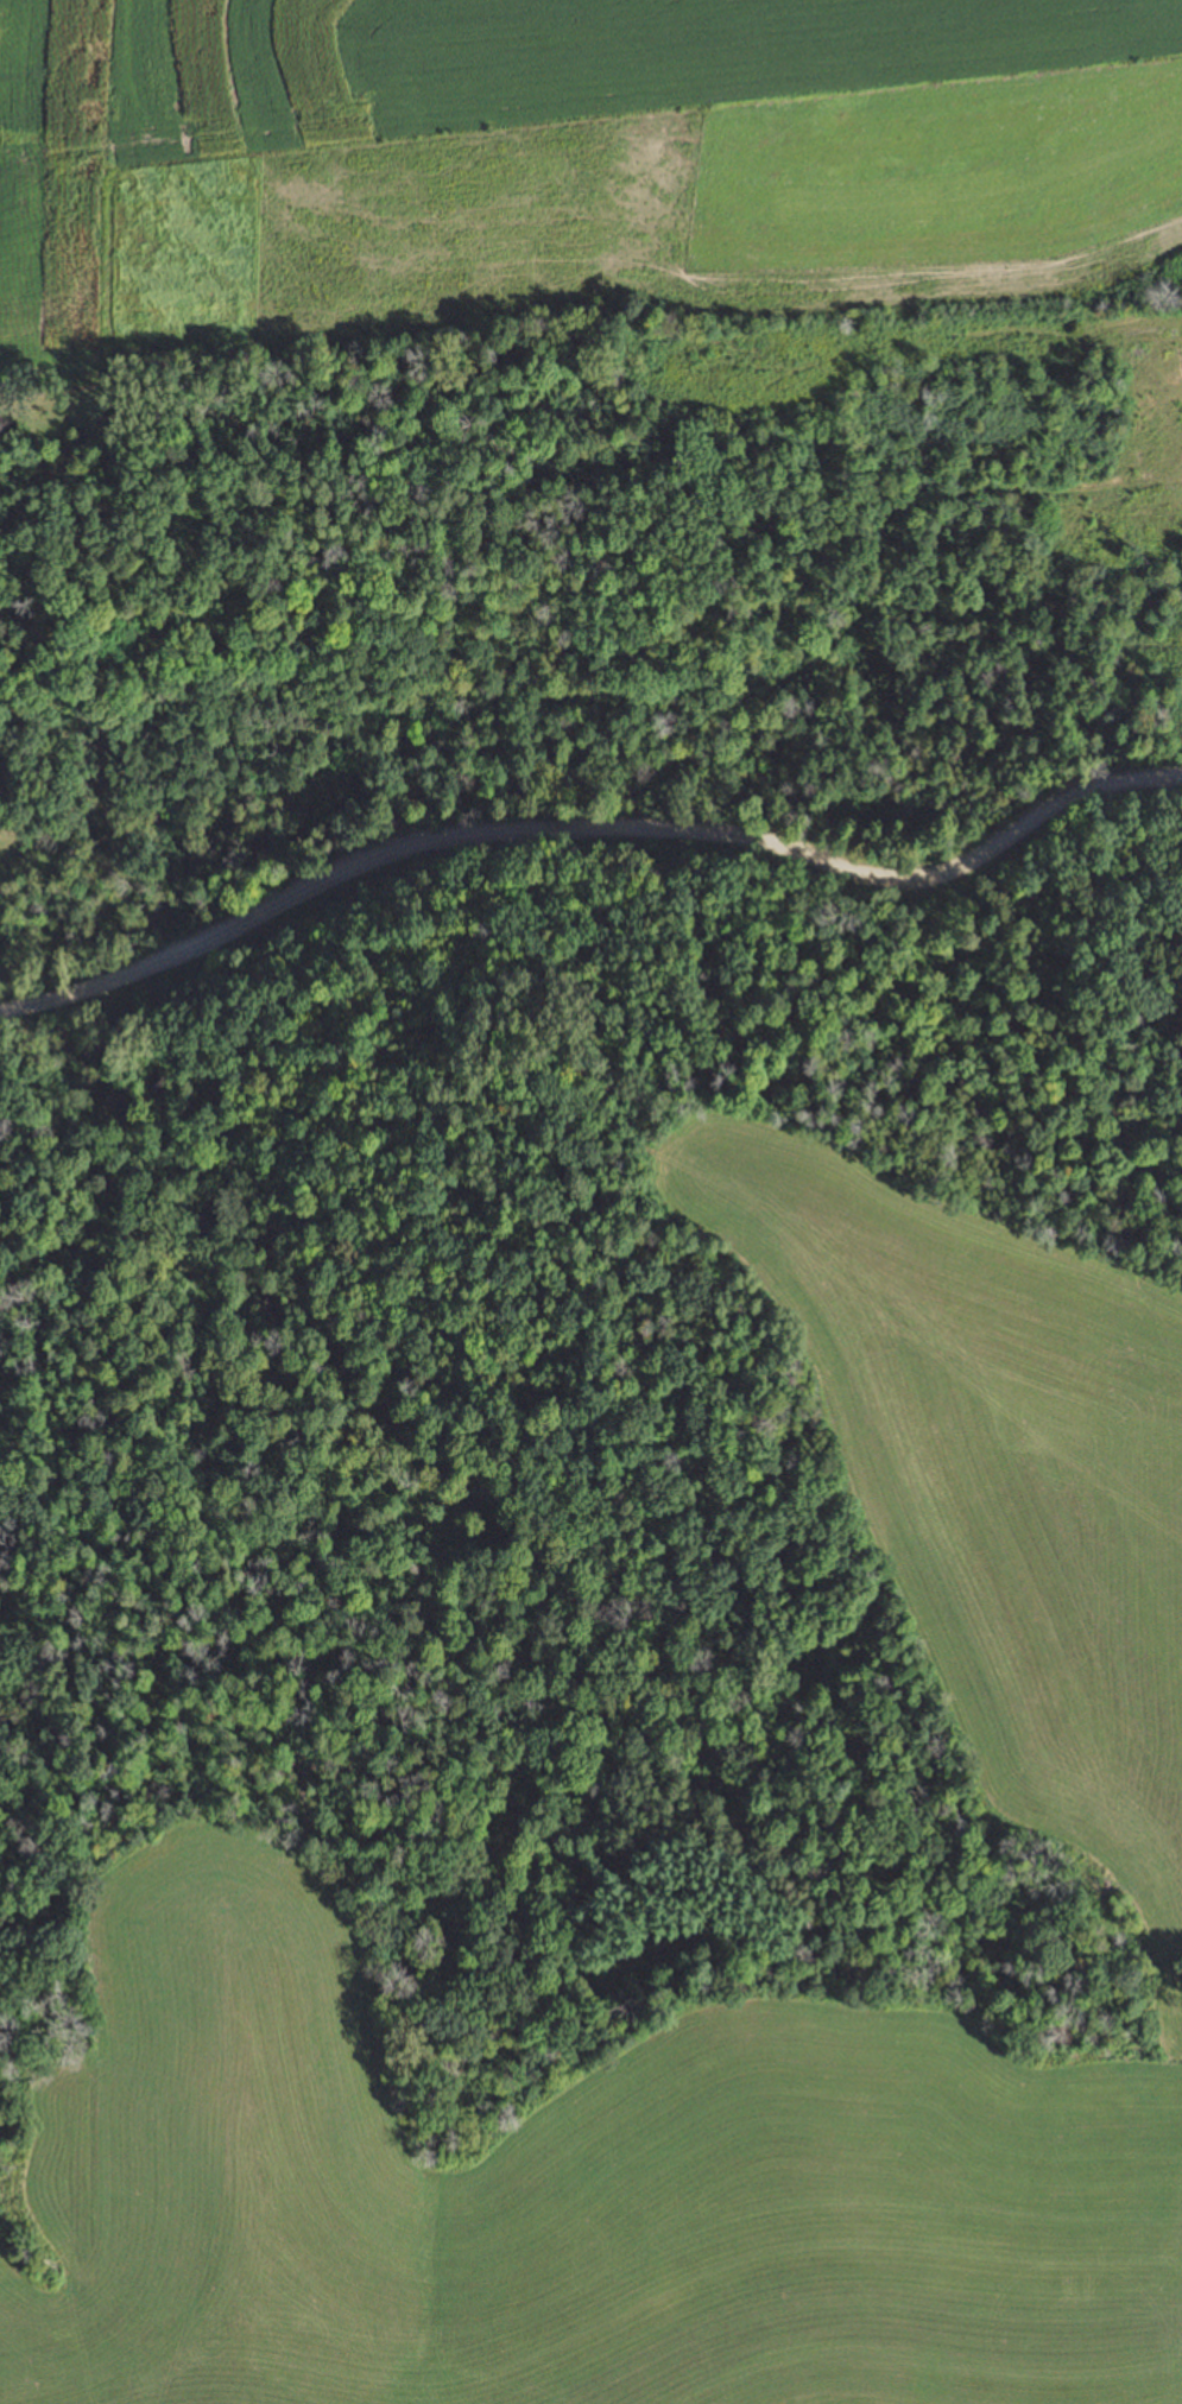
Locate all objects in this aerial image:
road: (589, 830)

